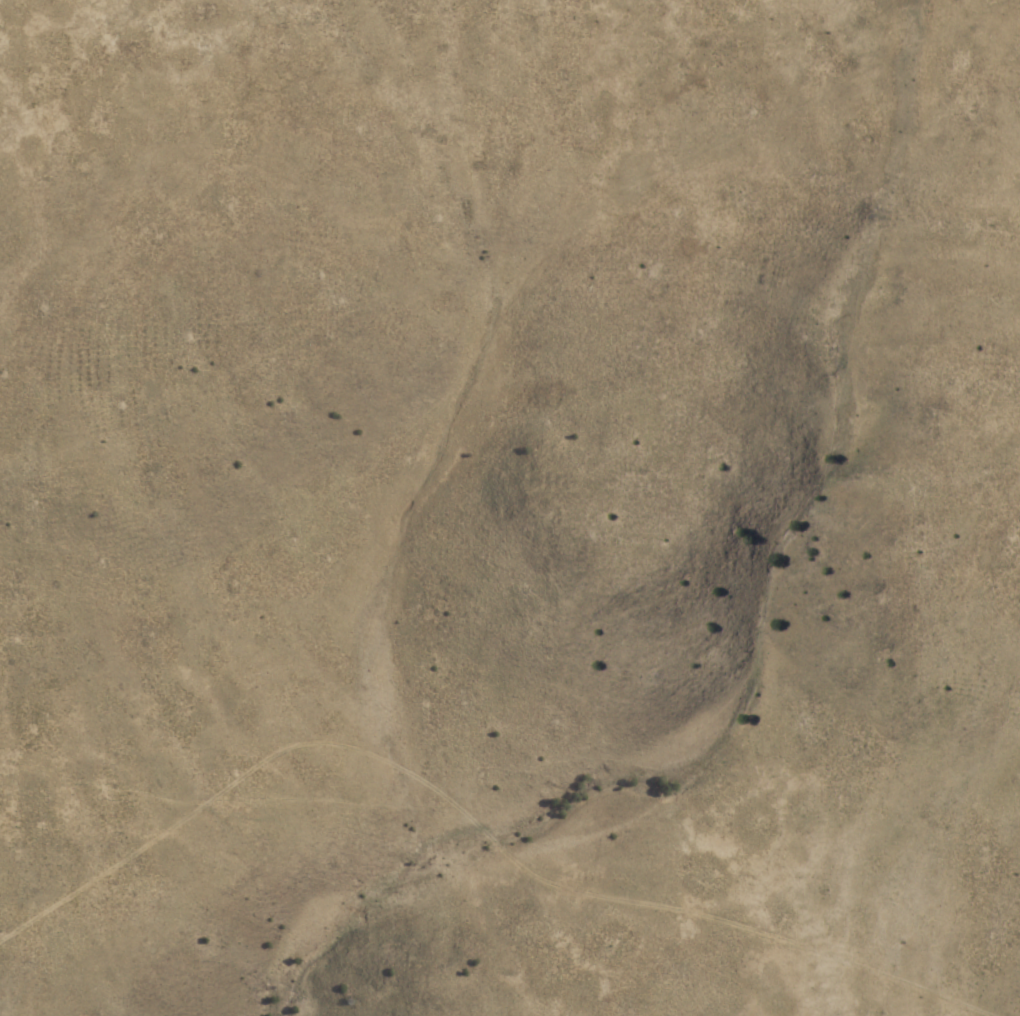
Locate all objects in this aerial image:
road: (452, 810)
road: (842, 959)

